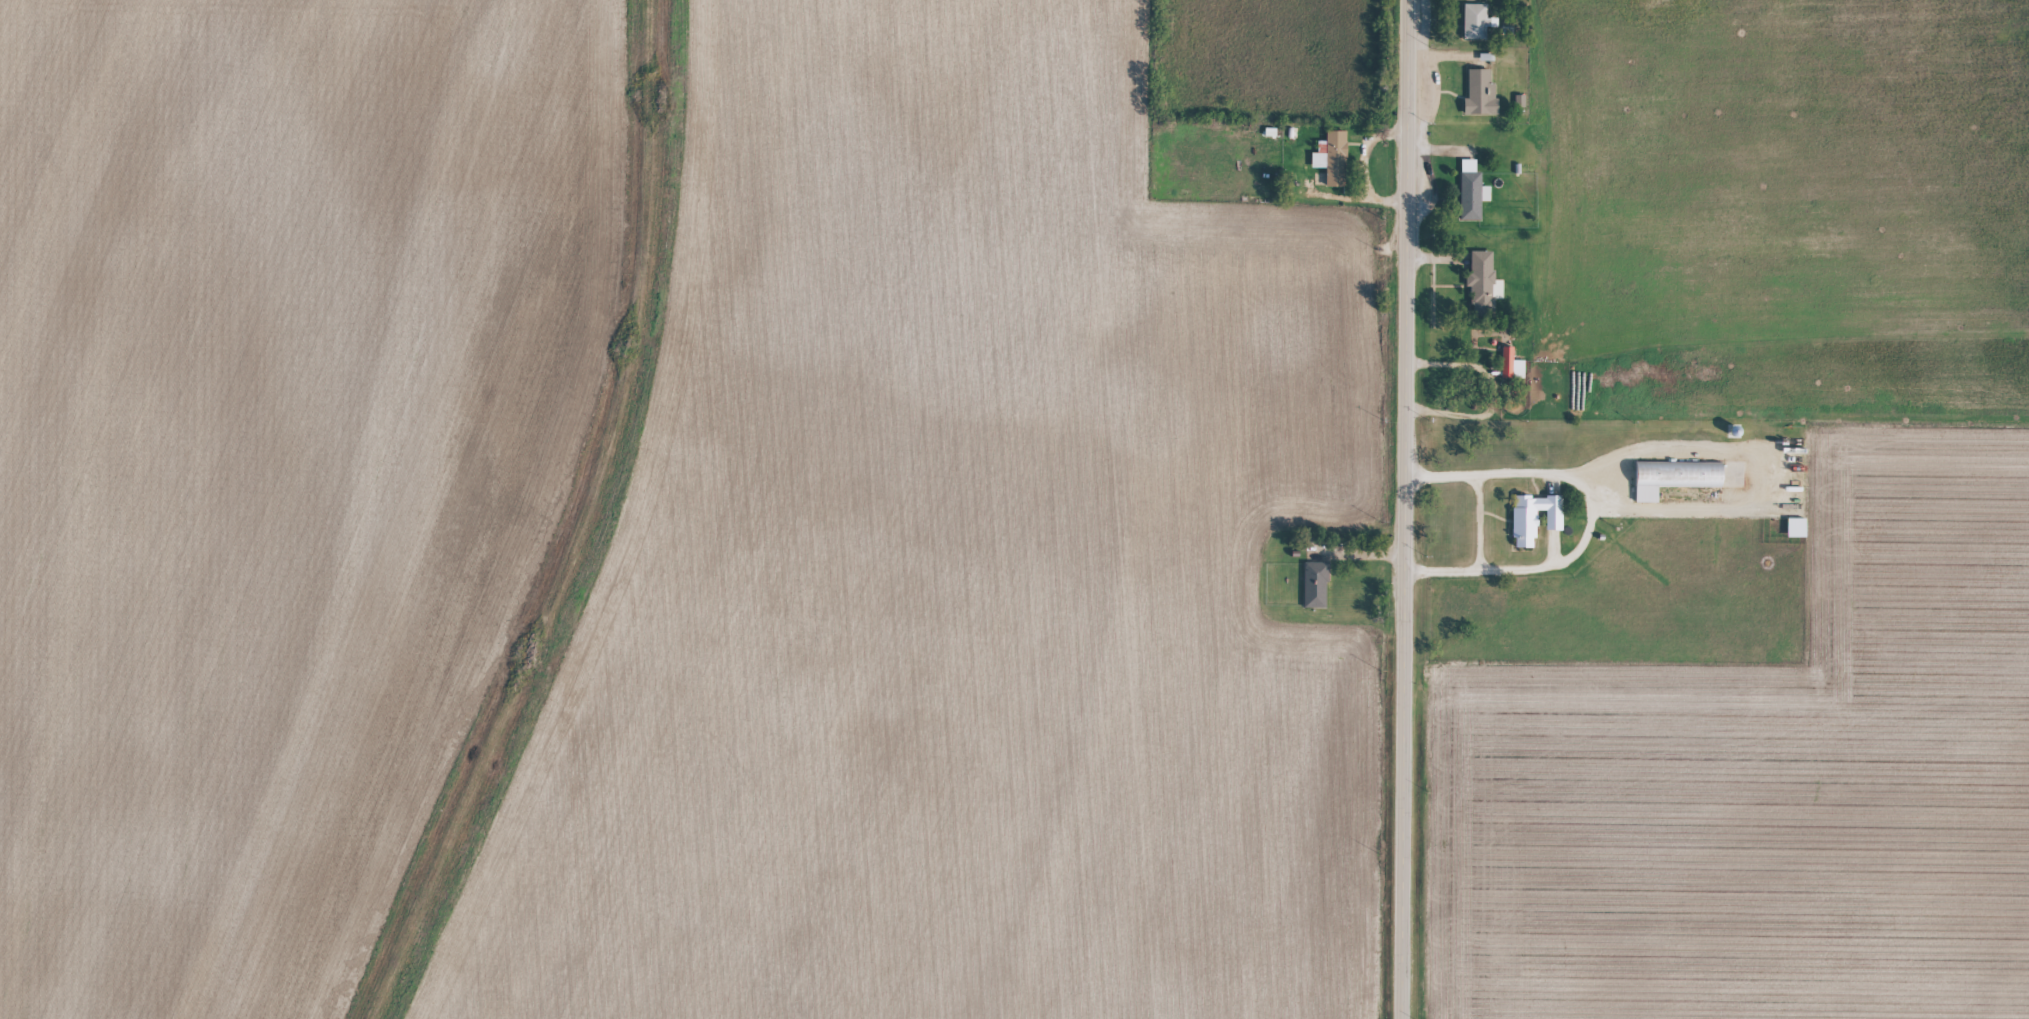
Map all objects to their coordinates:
building: (1478, 29)
building: (1481, 101)
building: (1520, 108)
building: (1333, 166)
building: (1471, 198)
building: (1487, 201)
building: (1484, 289)
building: (1511, 373)
road: (1406, 396)
building: (1676, 485)
road: (1593, 518)
railway: (572, 521)
building: (1536, 526)
building: (1798, 536)
building: (1316, 593)
road: (1403, 906)

